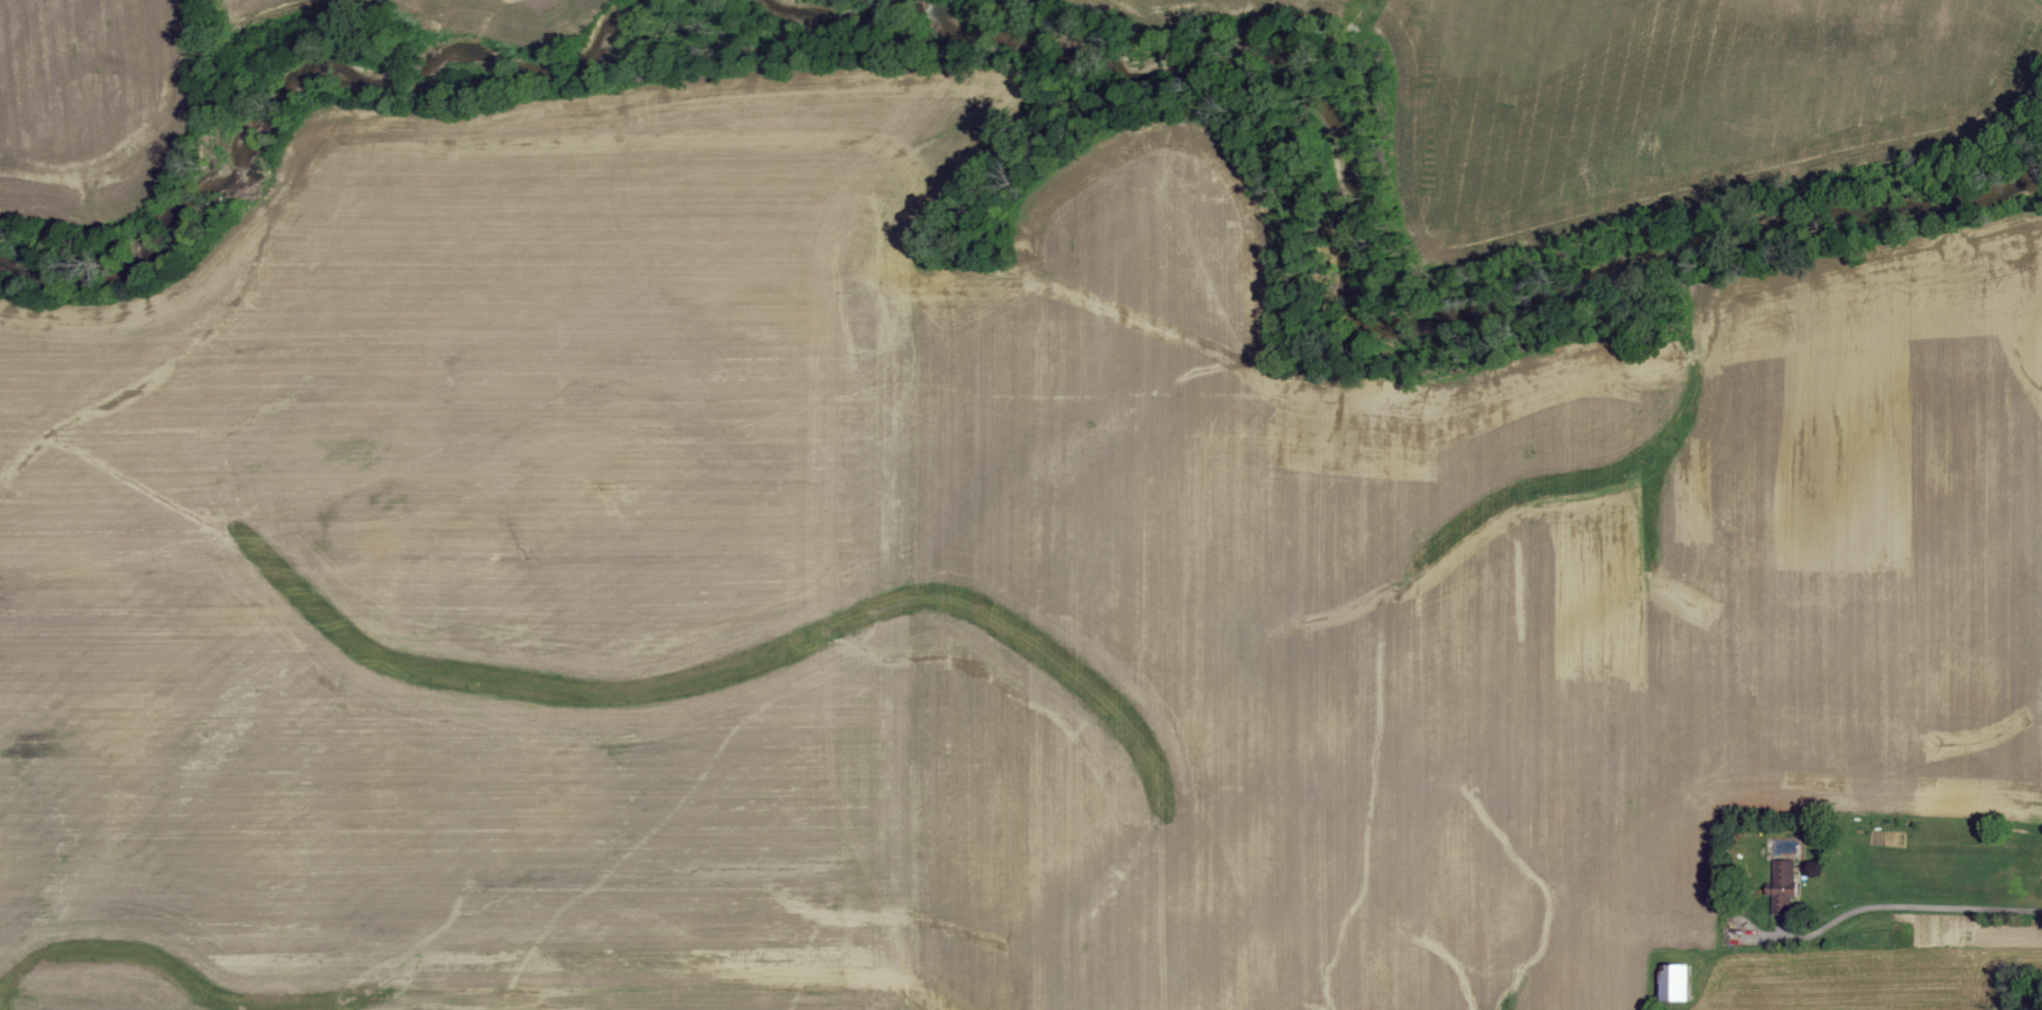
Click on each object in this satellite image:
building: (1786, 885)
road: (1896, 904)
building: (1678, 982)

